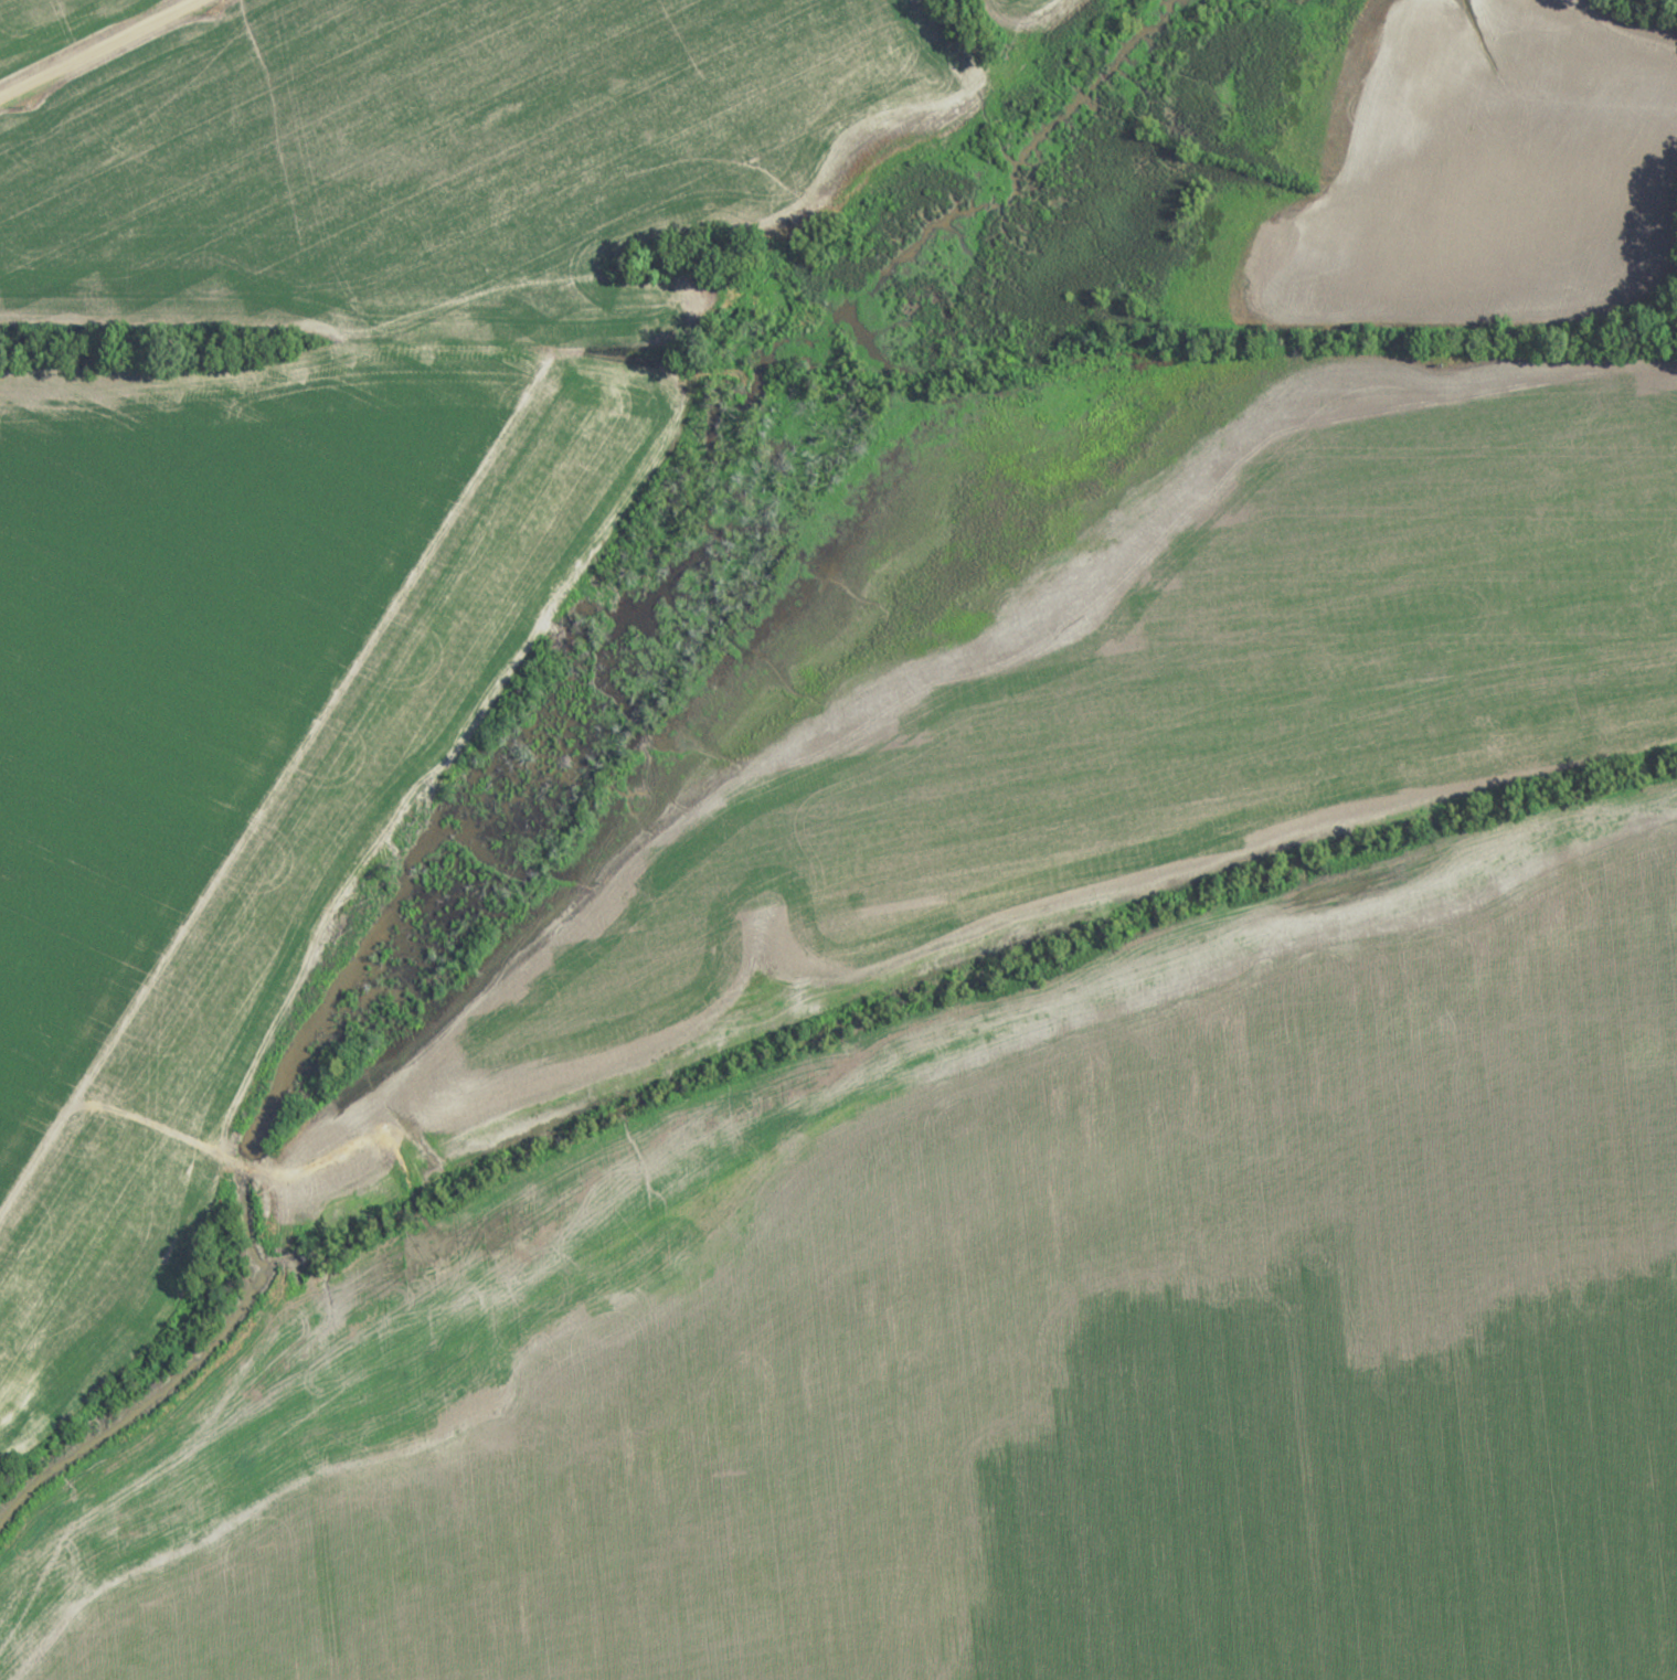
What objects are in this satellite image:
road: (95, 46)

